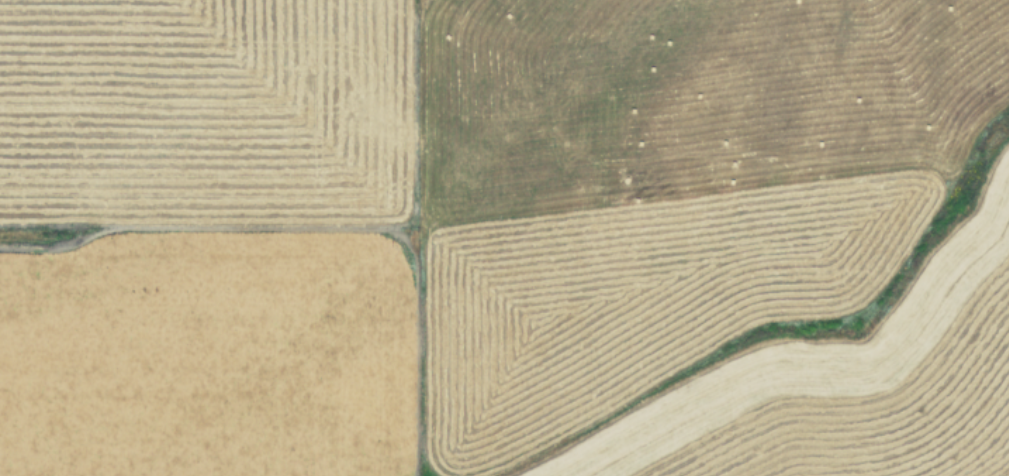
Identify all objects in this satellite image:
crop: (504, 238)

